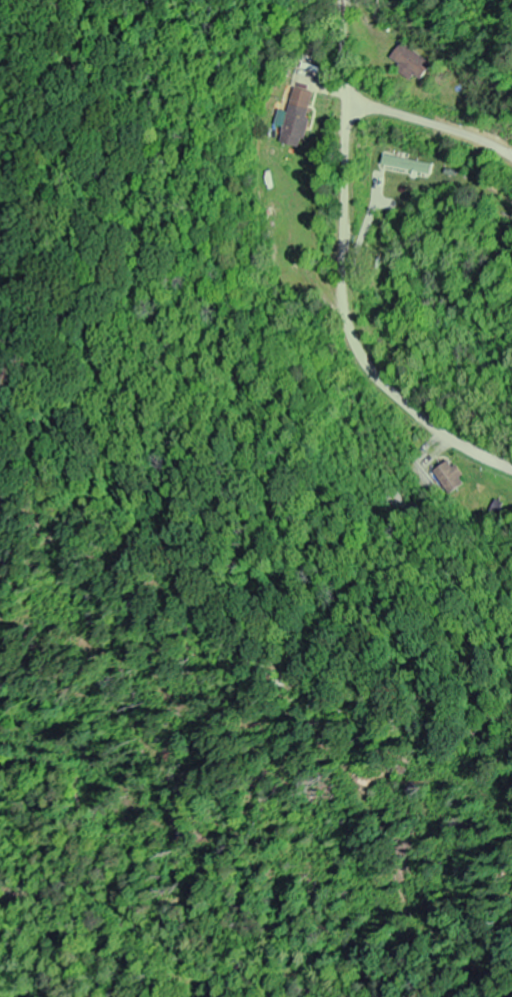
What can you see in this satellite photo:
building: (412, 64)
building: (298, 119)
road: (430, 125)
building: (410, 165)
building: (422, 177)
road: (341, 275)
building: (451, 479)

